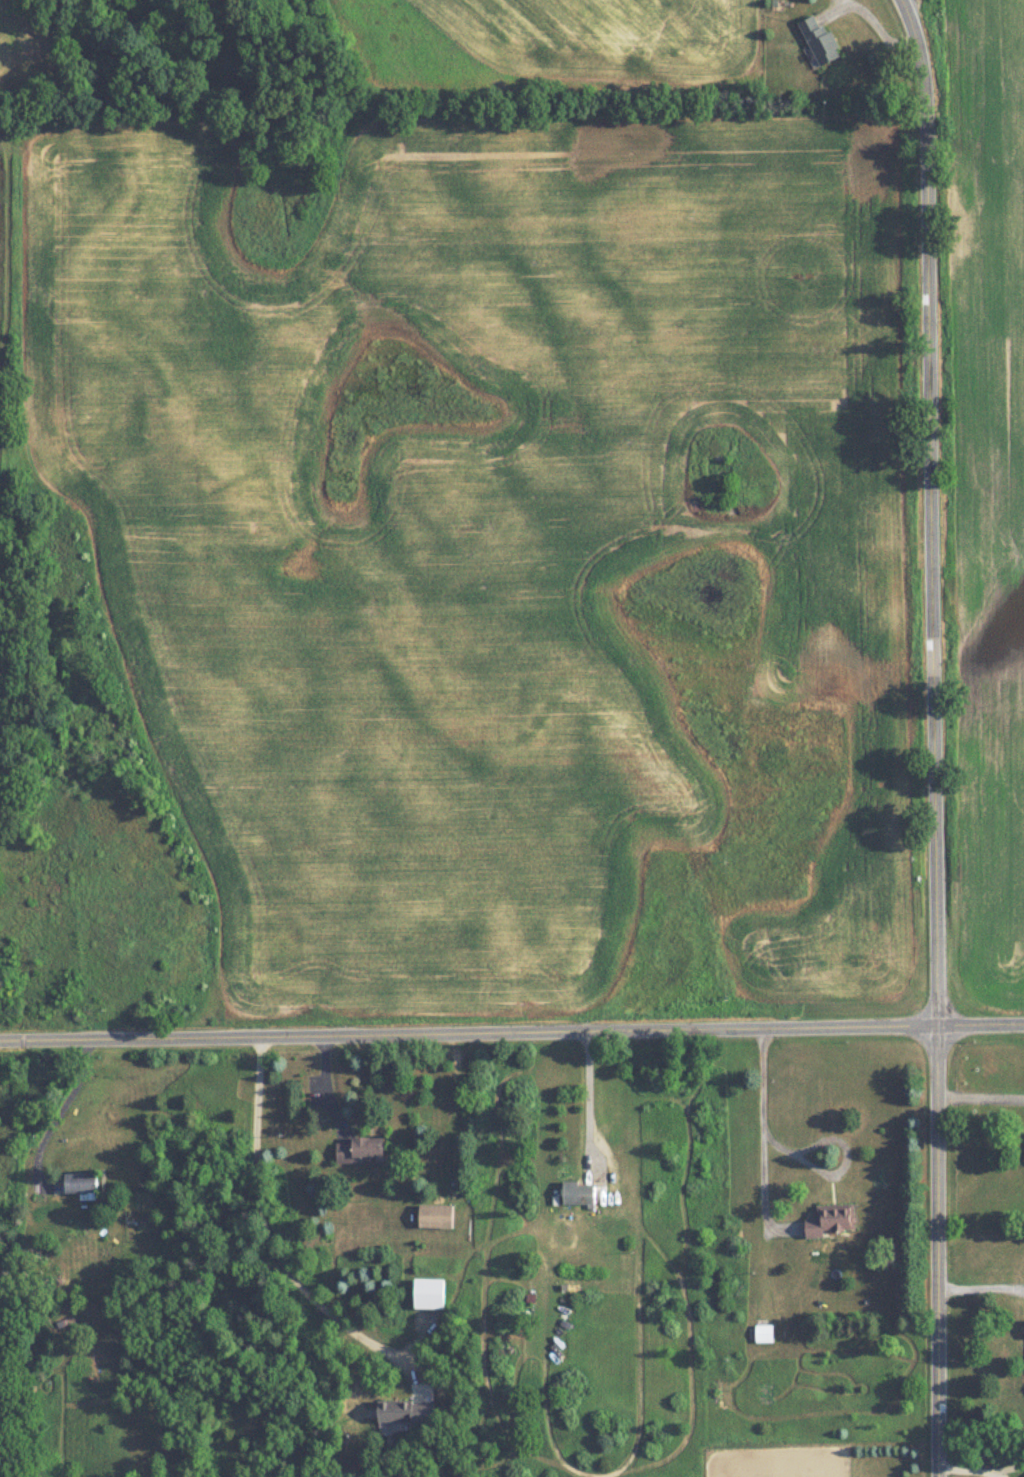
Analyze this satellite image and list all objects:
building: (820, 41)
road: (932, 736)
road: (512, 1026)
road: (588, 1089)
road: (980, 1095)
road: (455, 1106)
road: (58, 1112)
road: (762, 1132)
building: (364, 1151)
building: (82, 1185)
building: (580, 1194)
building: (438, 1217)
building: (833, 1220)
road: (263, 1228)
road: (980, 1272)
building: (765, 1334)
building: (408, 1413)
road: (967, 1470)

